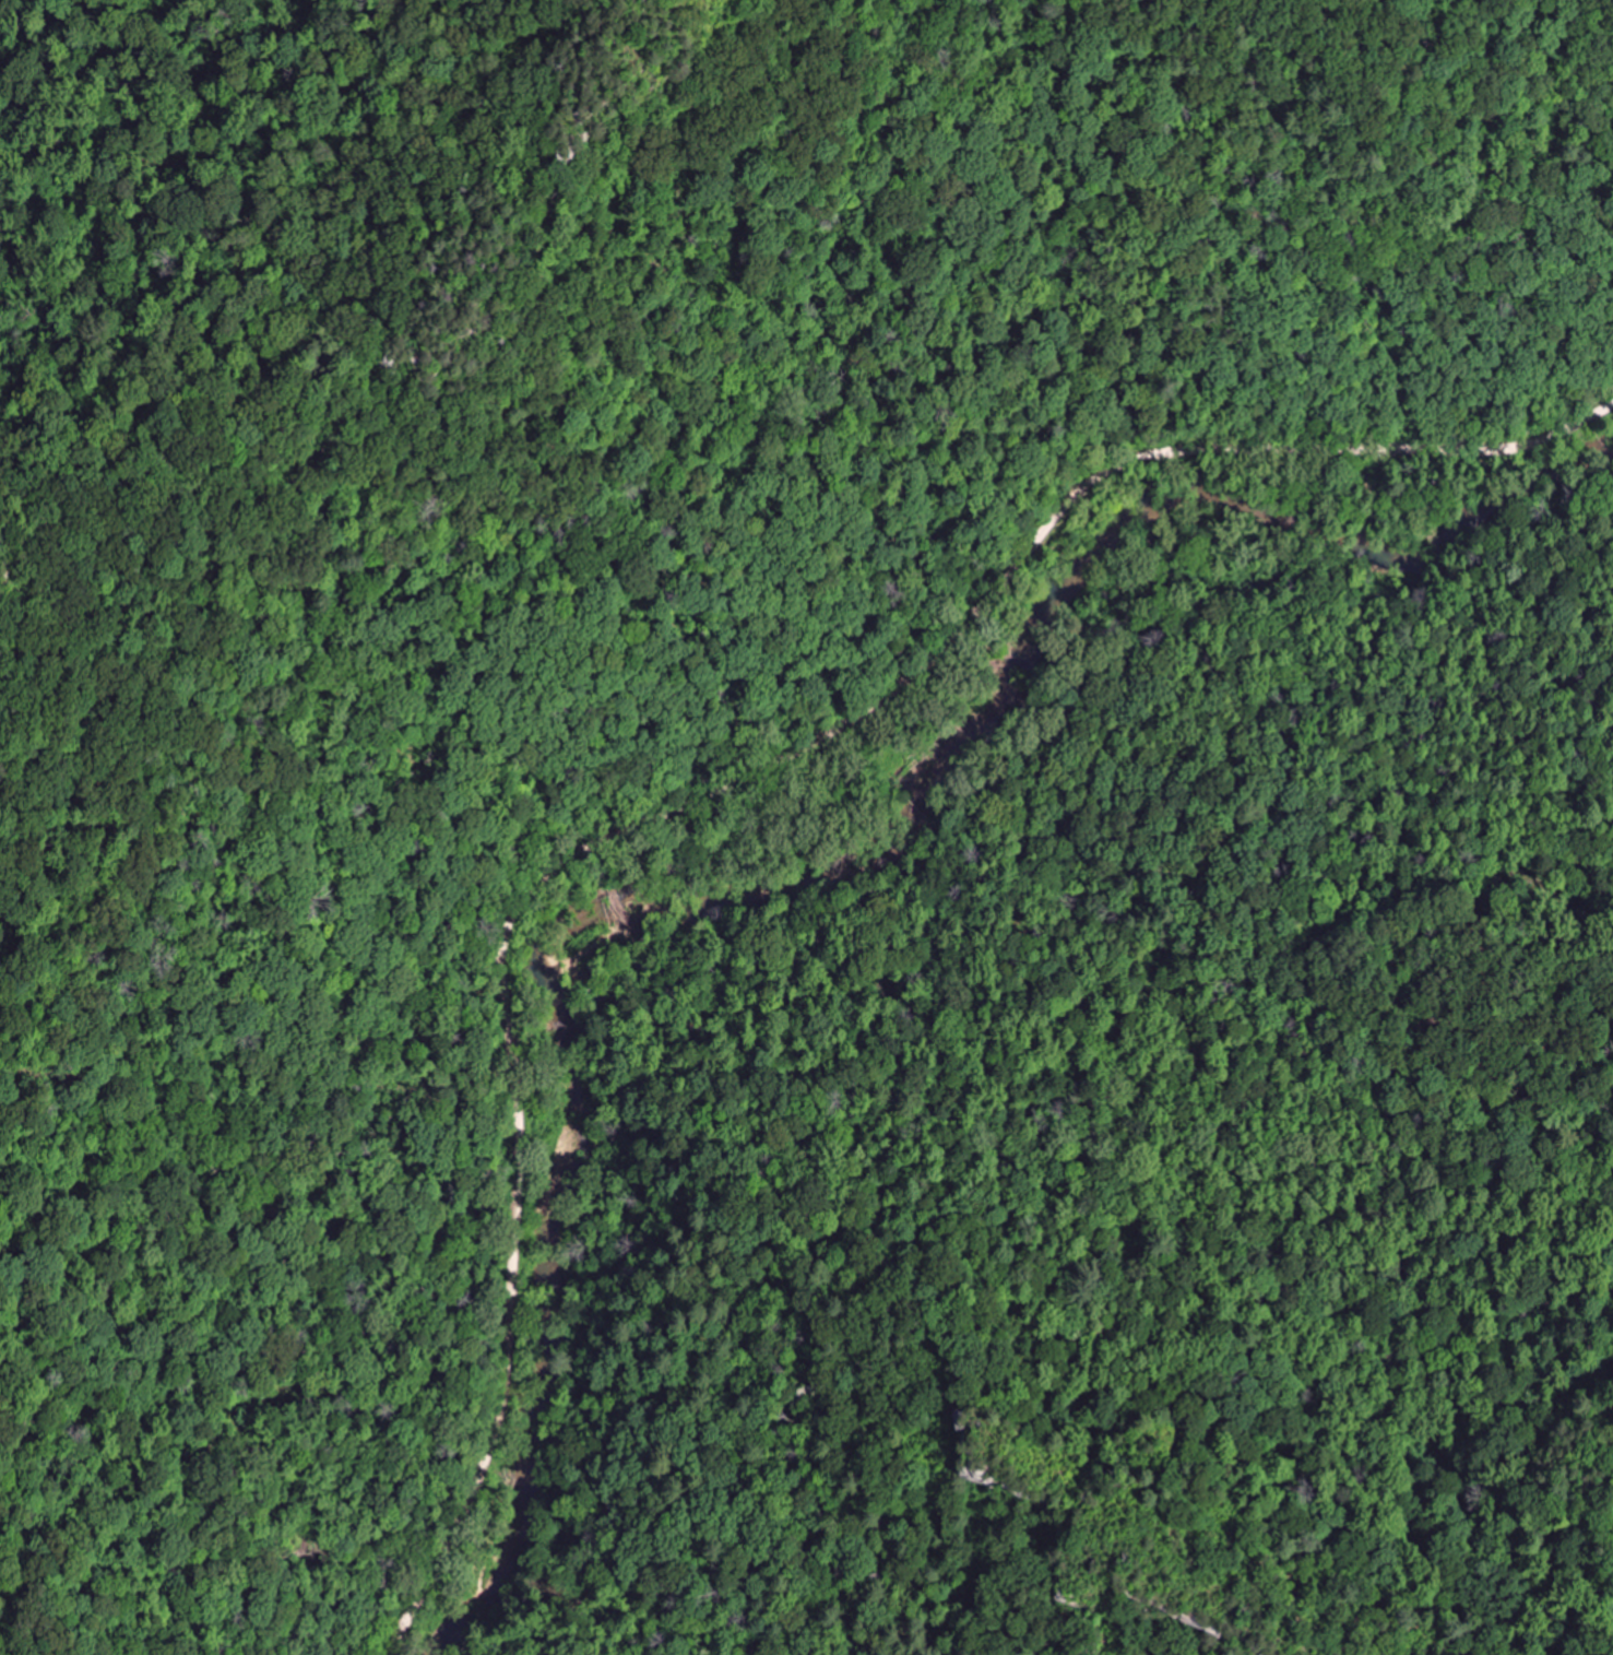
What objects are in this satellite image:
road: (720, 780)

